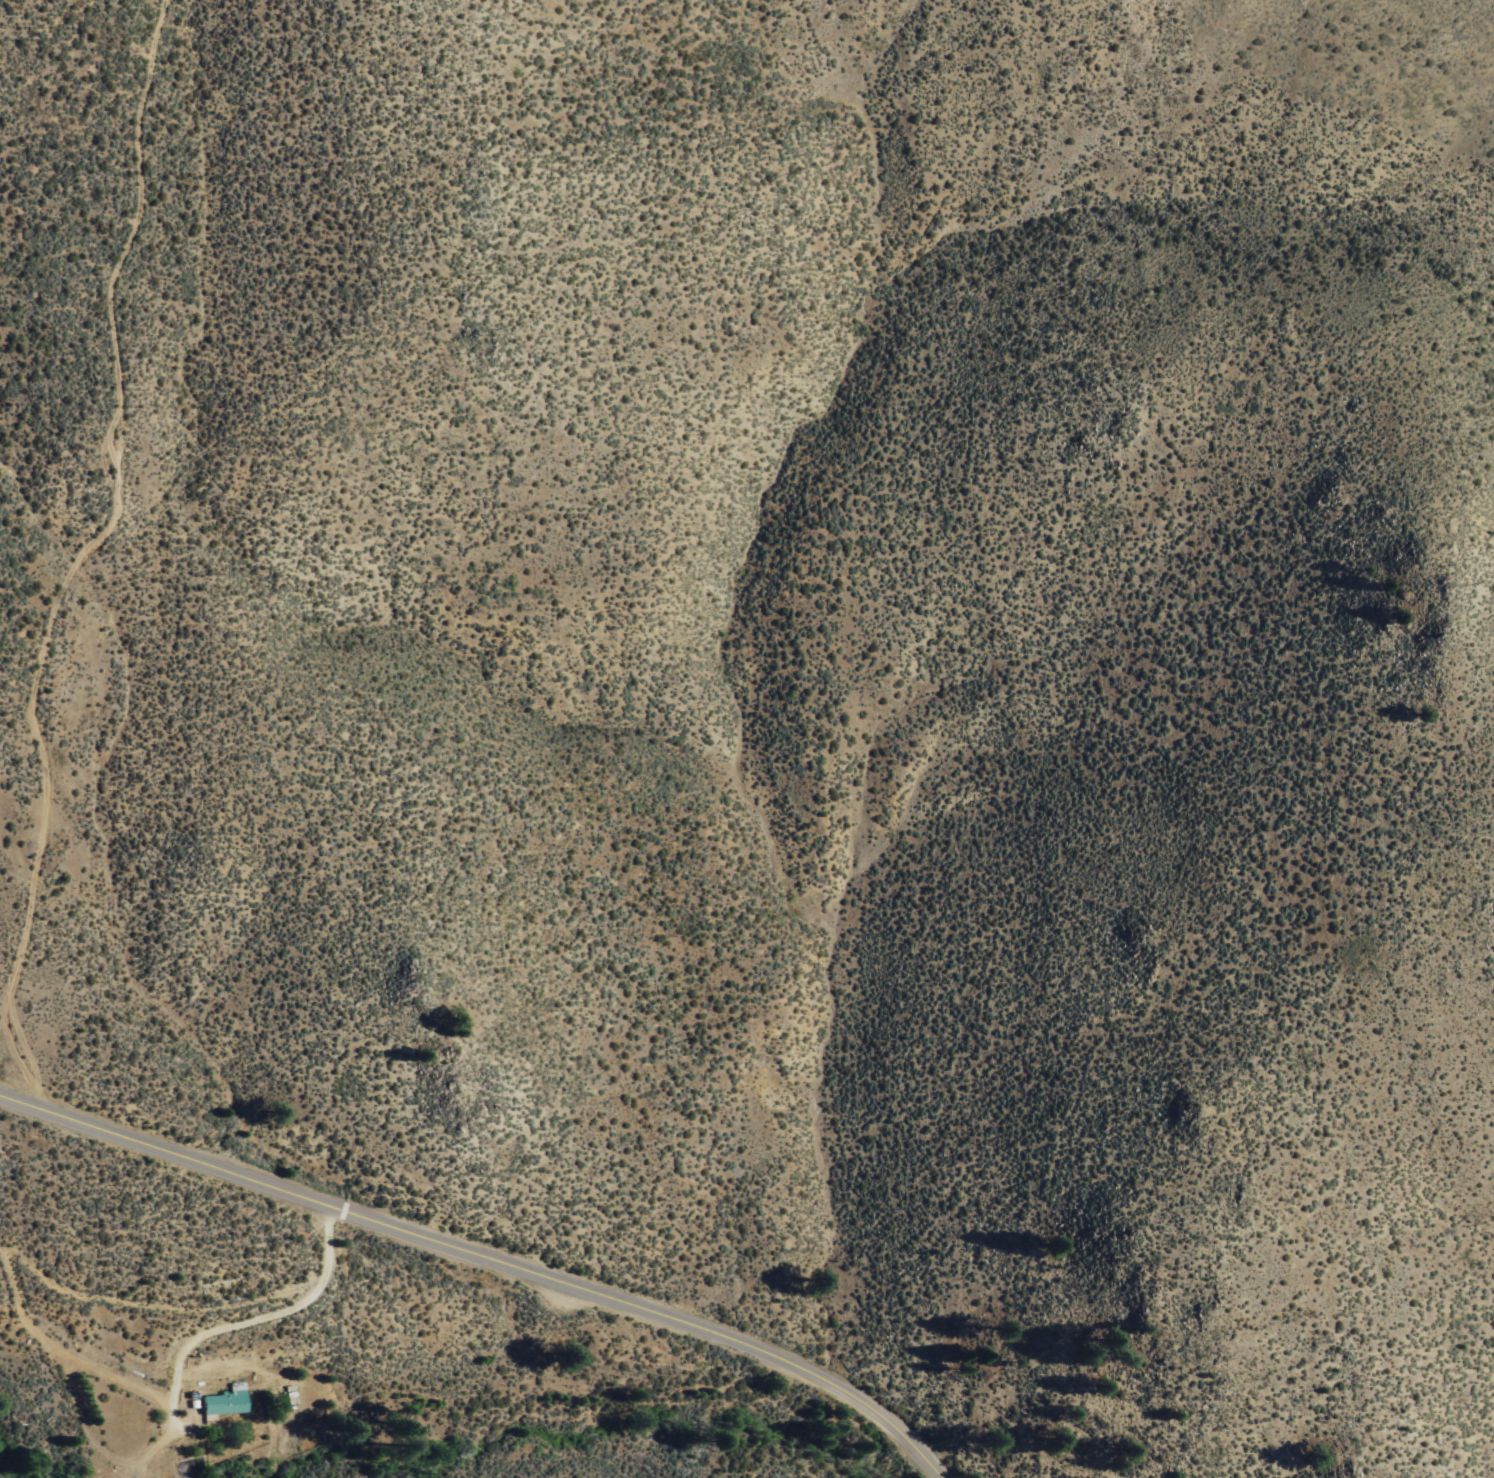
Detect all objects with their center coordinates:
road: (88, 549)
road: (486, 1257)
road: (97, 1372)

